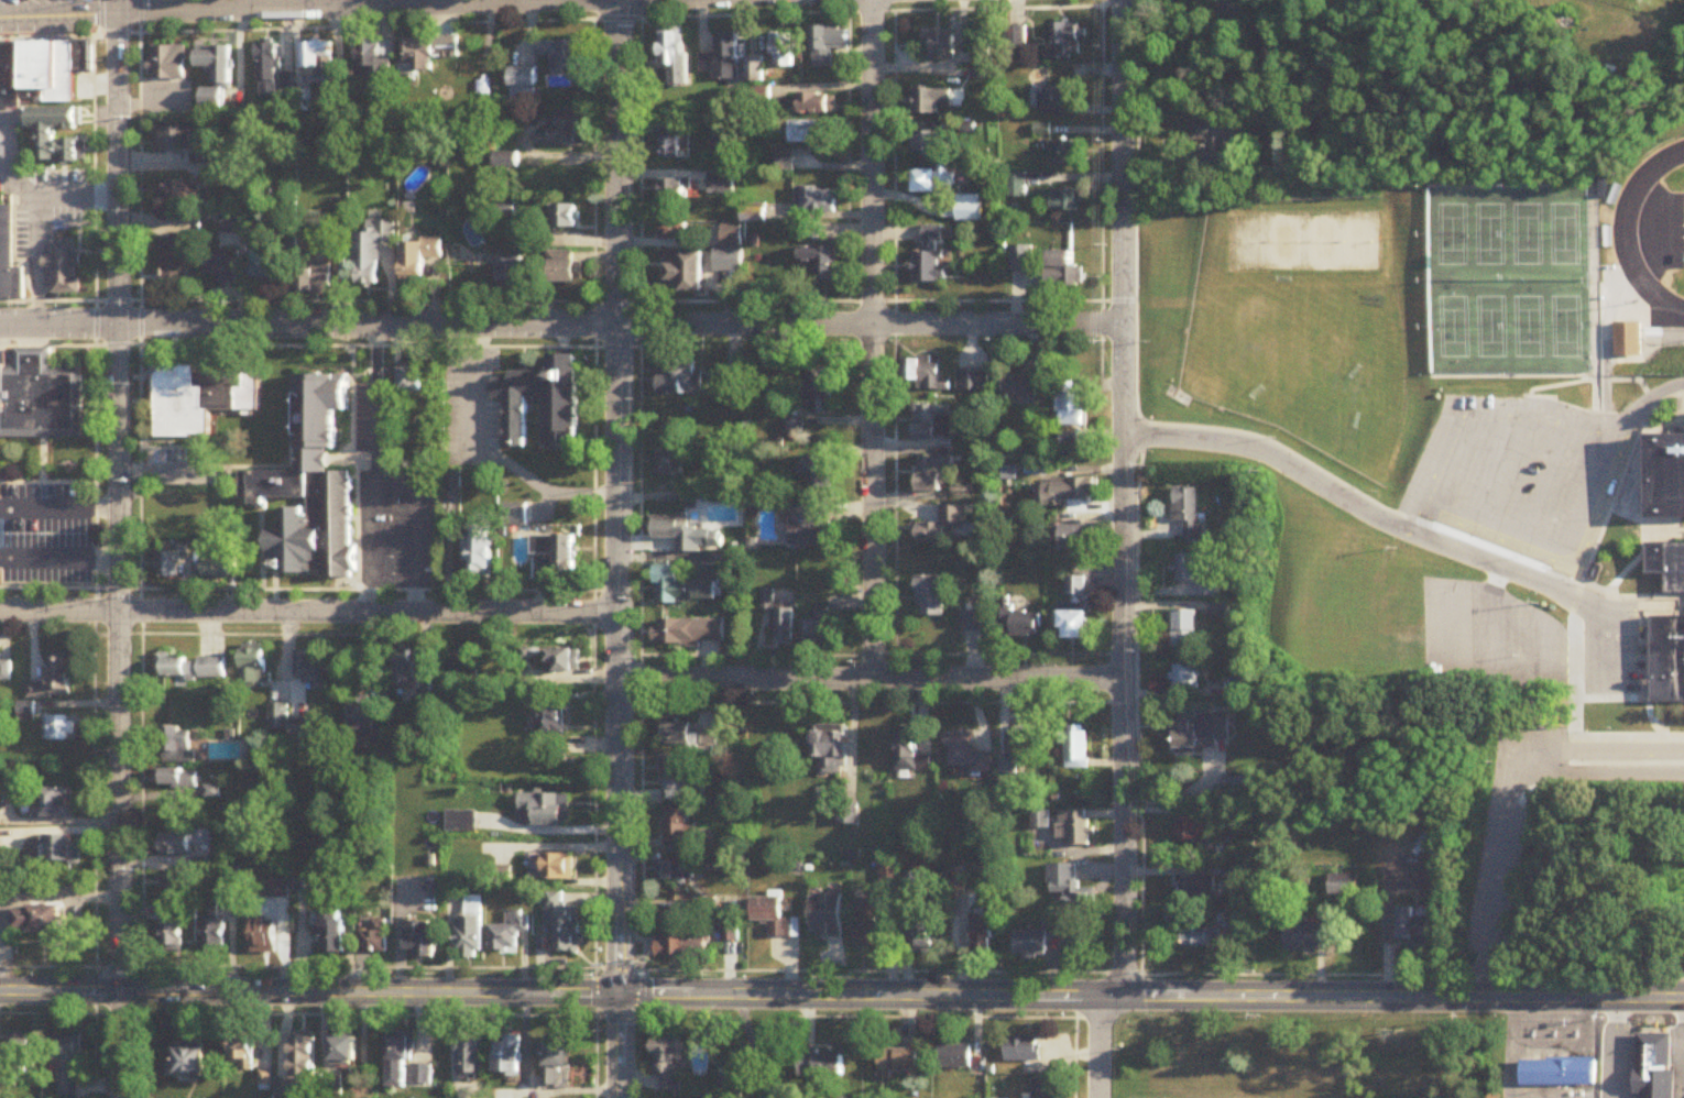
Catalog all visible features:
parking lot: (40, 2)
road: (294, 7)
road: (134, 13)
road: (553, 13)
road: (1288, 39)
building: (1064, 42)
building: (827, 45)
building: (941, 46)
building: (783, 50)
building: (426, 54)
building: (562, 55)
building: (675, 55)
building: (721, 59)
building: (982, 61)
building: (319, 64)
building: (373, 65)
building: (166, 66)
building: (12, 69)
building: (53, 70)
building: (754, 70)
building: (273, 73)
building: (216, 76)
building: (523, 86)
building: (1059, 101)
building: (931, 102)
building: (816, 105)
building: (562, 133)
building: (808, 133)
road: (4, 134)
building: (47, 134)
building: (1214, 140)
building: (174, 141)
building: (928, 144)
building: (670, 145)
building: (720, 147)
building: (1064, 152)
road: (849, 154)
road: (1101, 156)
road: (616, 161)
building: (786, 161)
road: (1123, 161)
road: (118, 162)
road: (871, 162)
parking lot: (50, 172)
road: (91, 172)
parking lot: (2, 174)
road: (15, 175)
building: (934, 182)
building: (720, 185)
building: (1016, 186)
building: (179, 190)
building: (674, 193)
building: (1067, 200)
building: (817, 201)
parking lot: (63, 206)
road: (34, 216)
road: (1135, 216)
building: (567, 218)
park: (1683, 229)
parking lot: (21, 233)
building: (675, 233)
building: (809, 233)
track: (1626, 233)
park: (1453, 235)
park: (1490, 235)
park: (1527, 235)
park: (1564, 235)
building: (6, 245)
building: (371, 252)
building: (931, 256)
building: (1020, 259)
building: (418, 260)
building: (173, 261)
building: (723, 262)
building: (822, 264)
building: (64, 267)
building: (267, 268)
building: (225, 271)
building: (513, 271)
building: (1064, 271)
building: (566, 273)
building: (685, 274)
road: (1617, 278)
building: (314, 281)
road: (593, 292)
road: (567, 301)
road: (1592, 305)
park: (1360, 308)
road: (560, 321)
park: (1454, 328)
park: (1491, 328)
park: (1528, 328)
park: (1564, 328)
road: (1654, 328)
parking lot: (347, 336)
road: (1003, 337)
building: (1627, 340)
road: (1644, 343)
road: (46, 344)
road: (367, 345)
road: (145, 358)
park: (1304, 359)
building: (925, 377)
building: (681, 378)
building: (409, 382)
building: (972, 382)
road: (1605, 385)
building: (1, 386)
building: (1021, 388)
building: (734, 392)
building: (201, 393)
building: (821, 393)
building: (39, 396)
building: (549, 399)
road: (1643, 406)
parking lot: (453, 407)
building: (1069, 410)
road: (1534, 411)
park: (1488, 413)
parking lot: (361, 420)
building: (1683, 420)
building: (933, 425)
building: (794, 430)
road: (892, 441)
road: (35, 454)
road: (488, 455)
road: (351, 461)
road: (1490, 462)
building: (671, 464)
road: (375, 469)
road: (45, 474)
building: (817, 475)
building: (934, 476)
road: (1551, 477)
building: (1666, 479)
parking lot: (1518, 481)
parking lot: (43, 485)
building: (310, 491)
road: (636, 492)
building: (1068, 493)
road: (850, 496)
road: (133, 497)
building: (565, 498)
road: (1640, 499)
road: (873, 502)
road: (56, 503)
building: (200, 508)
building: (1185, 512)
building: (514, 516)
road: (1412, 520)
road: (1598, 521)
road: (416, 526)
road: (1396, 526)
road: (1497, 526)
parking lot: (44, 527)
building: (808, 529)
building: (942, 529)
building: (676, 534)
parking lot: (391, 538)
parking lot: (433, 538)
building: (1075, 538)
road: (255, 543)
building: (543, 547)
road: (57, 551)
building: (479, 551)
building: (566, 560)
building: (168, 563)
building: (1666, 566)
parking lot: (44, 567)
building: (215, 570)
park: (1344, 570)
road: (1564, 573)
building: (1193, 574)
road: (45, 579)
road: (352, 582)
road: (1604, 588)
building: (681, 589)
building: (1075, 591)
building: (931, 597)
road: (307, 611)
building: (971, 623)
building: (1020, 623)
building: (822, 627)
building: (1075, 627)
building: (784, 628)
road: (362, 629)
building: (1184, 630)
building: (688, 633)
road: (1443, 634)
road: (1535, 643)
road: (739, 647)
road: (1639, 648)
road: (1123, 655)
road: (89, 656)
building: (464, 658)
building: (1669, 660)
building: (564, 661)
road: (1491, 661)
building: (189, 668)
building: (308, 668)
building: (402, 669)
building: (4, 670)
building: (253, 670)
building: (1185, 678)
road: (868, 681)
road: (1573, 681)
building: (54, 682)
road: (1130, 687)
road: (1005, 693)
road: (1637, 698)
road: (114, 710)
road: (614, 710)
building: (549, 716)
building: (276, 717)
building: (368, 720)
building: (61, 729)
building: (1202, 733)
building: (682, 735)
building: (300, 736)
road: (1625, 740)
building: (176, 747)
road: (1608, 750)
building: (1075, 751)
building: (832, 753)
building: (1016, 753)
building: (909, 754)
road: (1518, 757)
building: (966, 758)
road: (1625, 765)
road: (1599, 776)
parking lot: (1518, 777)
building: (178, 780)
building: (681, 781)
building: (1235, 787)
building: (53, 804)
building: (543, 811)
building: (1039, 821)
building: (677, 825)
building: (1073, 830)
building: (1194, 831)
building: (174, 846)
building: (63, 852)
road: (589, 865)
building: (551, 869)
building: (677, 871)
building: (1431, 877)
building: (1060, 878)
building: (174, 883)
building: (1341, 886)
building: (275, 890)
road: (1496, 890)
building: (825, 919)
building: (774, 920)
building: (37, 921)
building: (564, 924)
building: (866, 926)
building: (471, 931)
building: (1244, 931)
building: (1418, 931)
building: (333, 933)
building: (729, 933)
building: (509, 934)
building: (982, 935)
building: (172, 937)
building: (215, 937)
building: (264, 938)
building: (374, 940)
building: (921, 940)
building: (1200, 940)
building: (1304, 940)
building: (422, 941)
building: (1029, 946)
building: (680, 947)
park: (1666, 957)
road: (842, 967)
road: (559, 992)
road: (1401, 996)
road: (308, 1018)
road: (970, 1020)
road: (1592, 1021)
road: (1584, 1024)
road: (1091, 1043)
park: (1246, 1047)
road: (1513, 1047)
building: (242, 1048)
road: (1619, 1048)
road: (1683, 1048)
building: (343, 1051)
building: (1021, 1051)
building: (469, 1055)
building: (510, 1056)
building: (954, 1057)
building: (17, 1058)
building: (187, 1062)
building: (405, 1062)
building: (555, 1062)
building: (895, 1063)
building: (1658, 1065)
building: (297, 1066)
building: (67, 1067)
building: (669, 1068)
building: (823, 1068)
building: (1560, 1073)
road: (1584, 1074)
building: (264, 1080)
building: (733, 1080)
building: (1045, 1088)
road: (488, 1096)
road: (1583, 1097)

